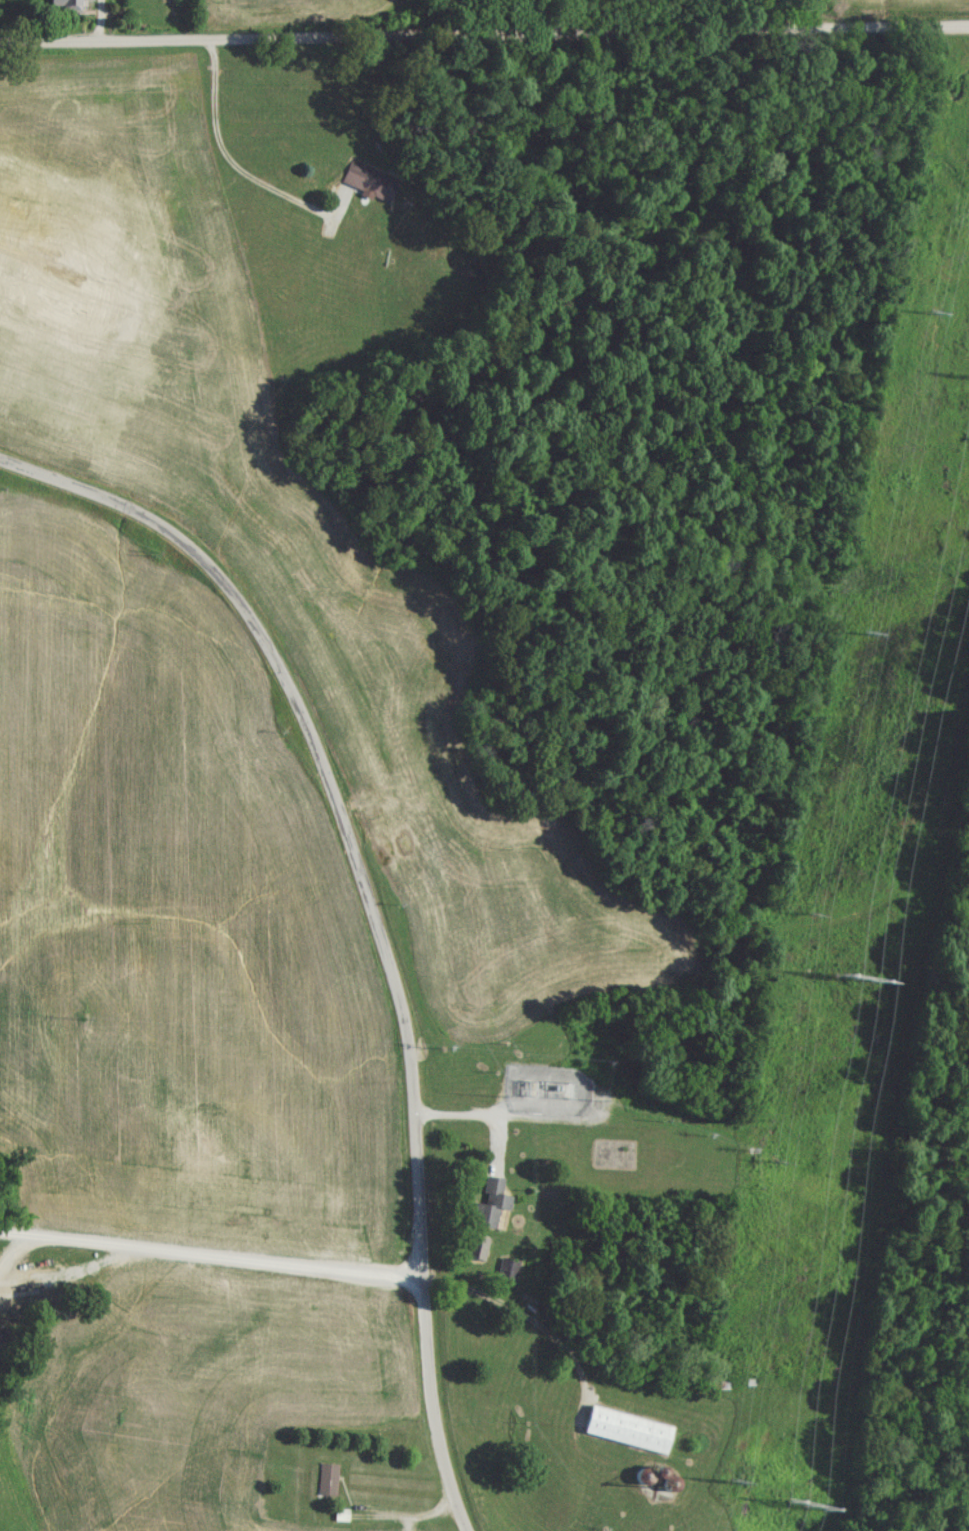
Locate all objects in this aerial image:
building: (66, 7)
road: (484, 38)
road: (228, 158)
building: (363, 184)
road: (379, 914)
power tower: (857, 982)
road: (472, 1116)
building: (488, 1209)
building: (477, 1252)
road: (212, 1255)
road: (519, 1313)
building: (627, 1435)
building: (327, 1484)
power tower: (792, 1507)
building: (341, 1521)

